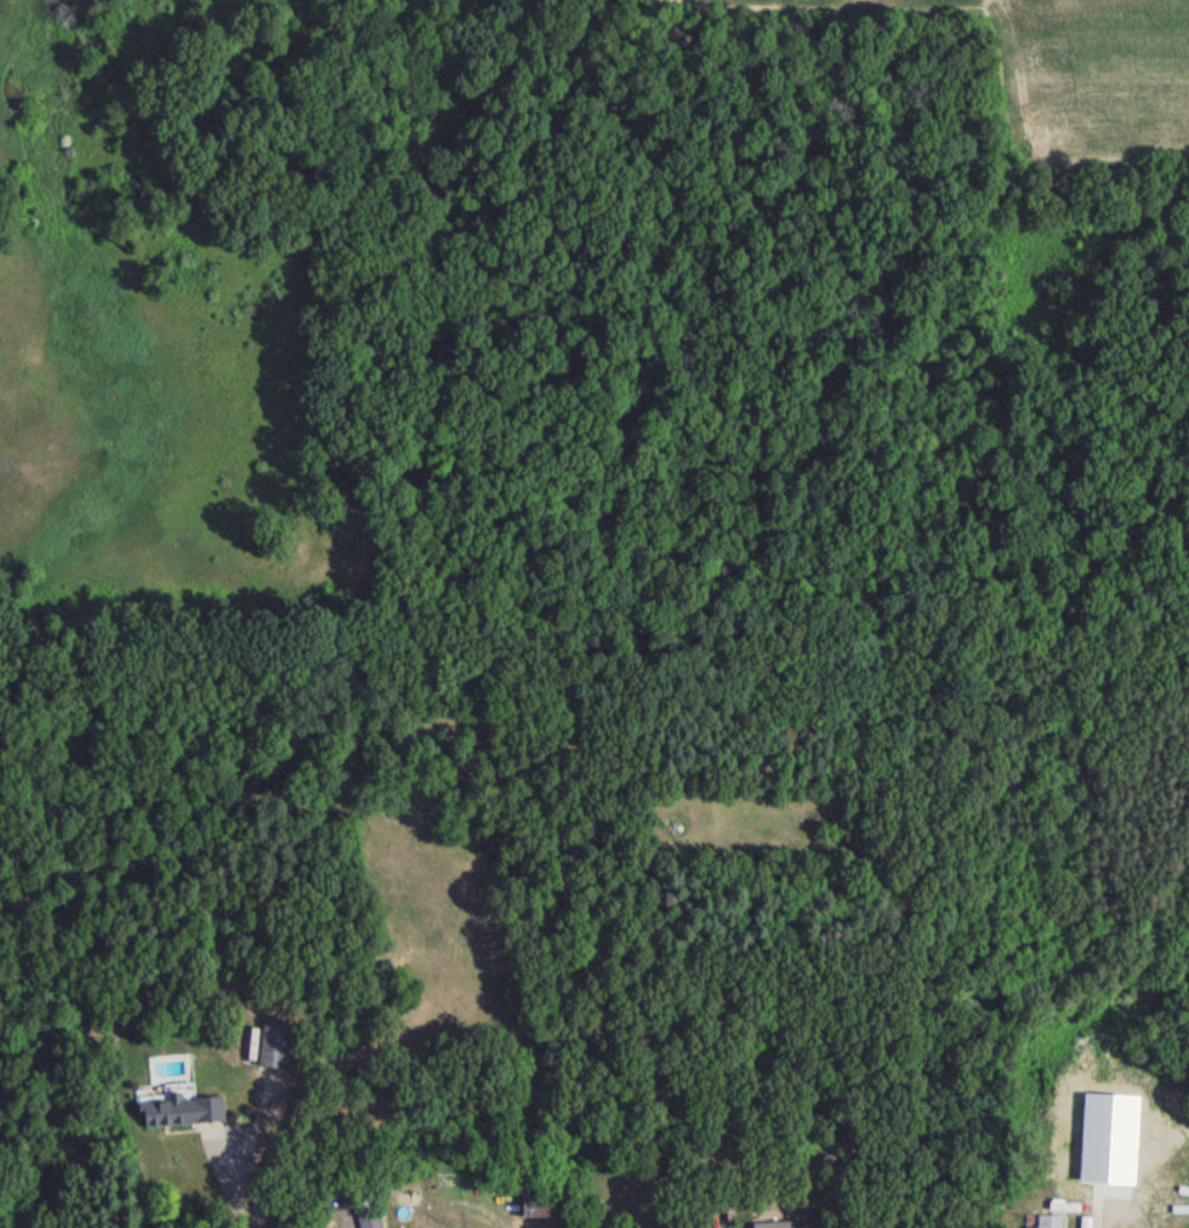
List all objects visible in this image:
building: (272, 1052)
building: (180, 1115)
road: (231, 1189)
building: (533, 1209)
road: (1093, 1221)
building: (366, 1223)
building: (1047, 1224)
building: (784, 1227)

